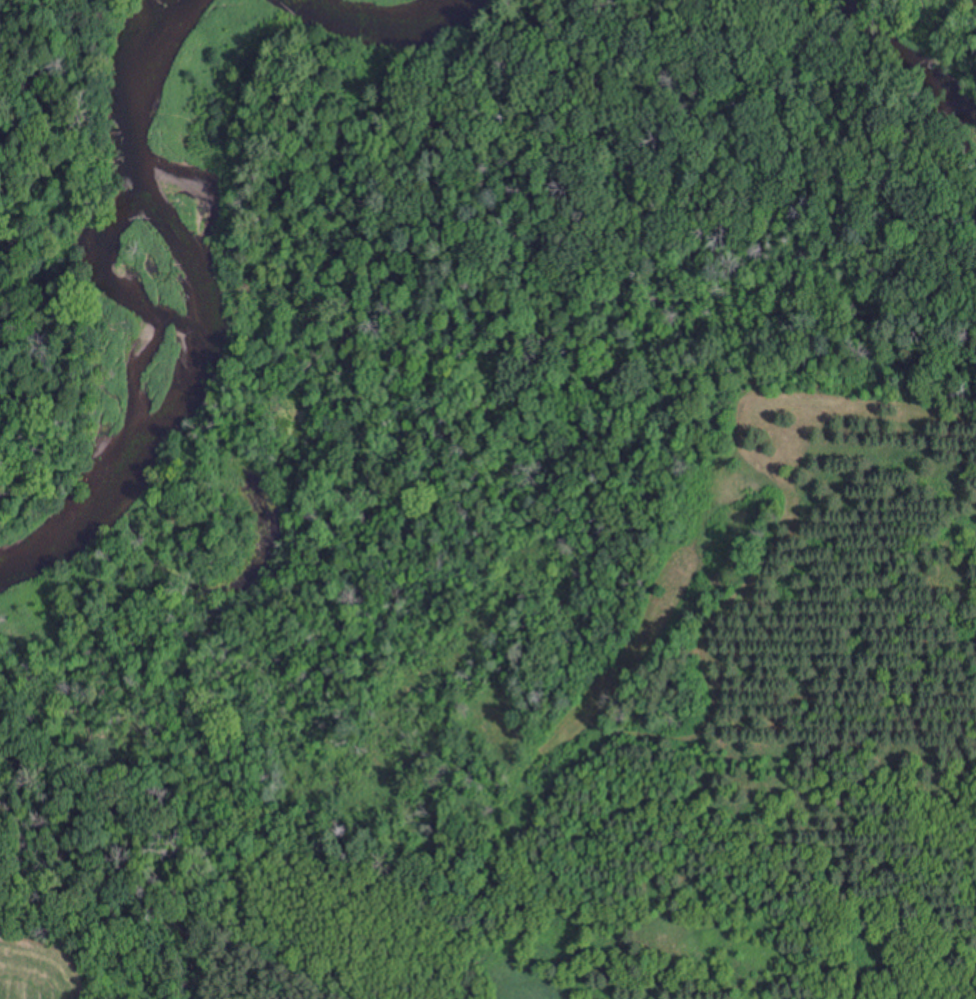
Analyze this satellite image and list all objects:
river: (377, 14)
river: (162, 298)

